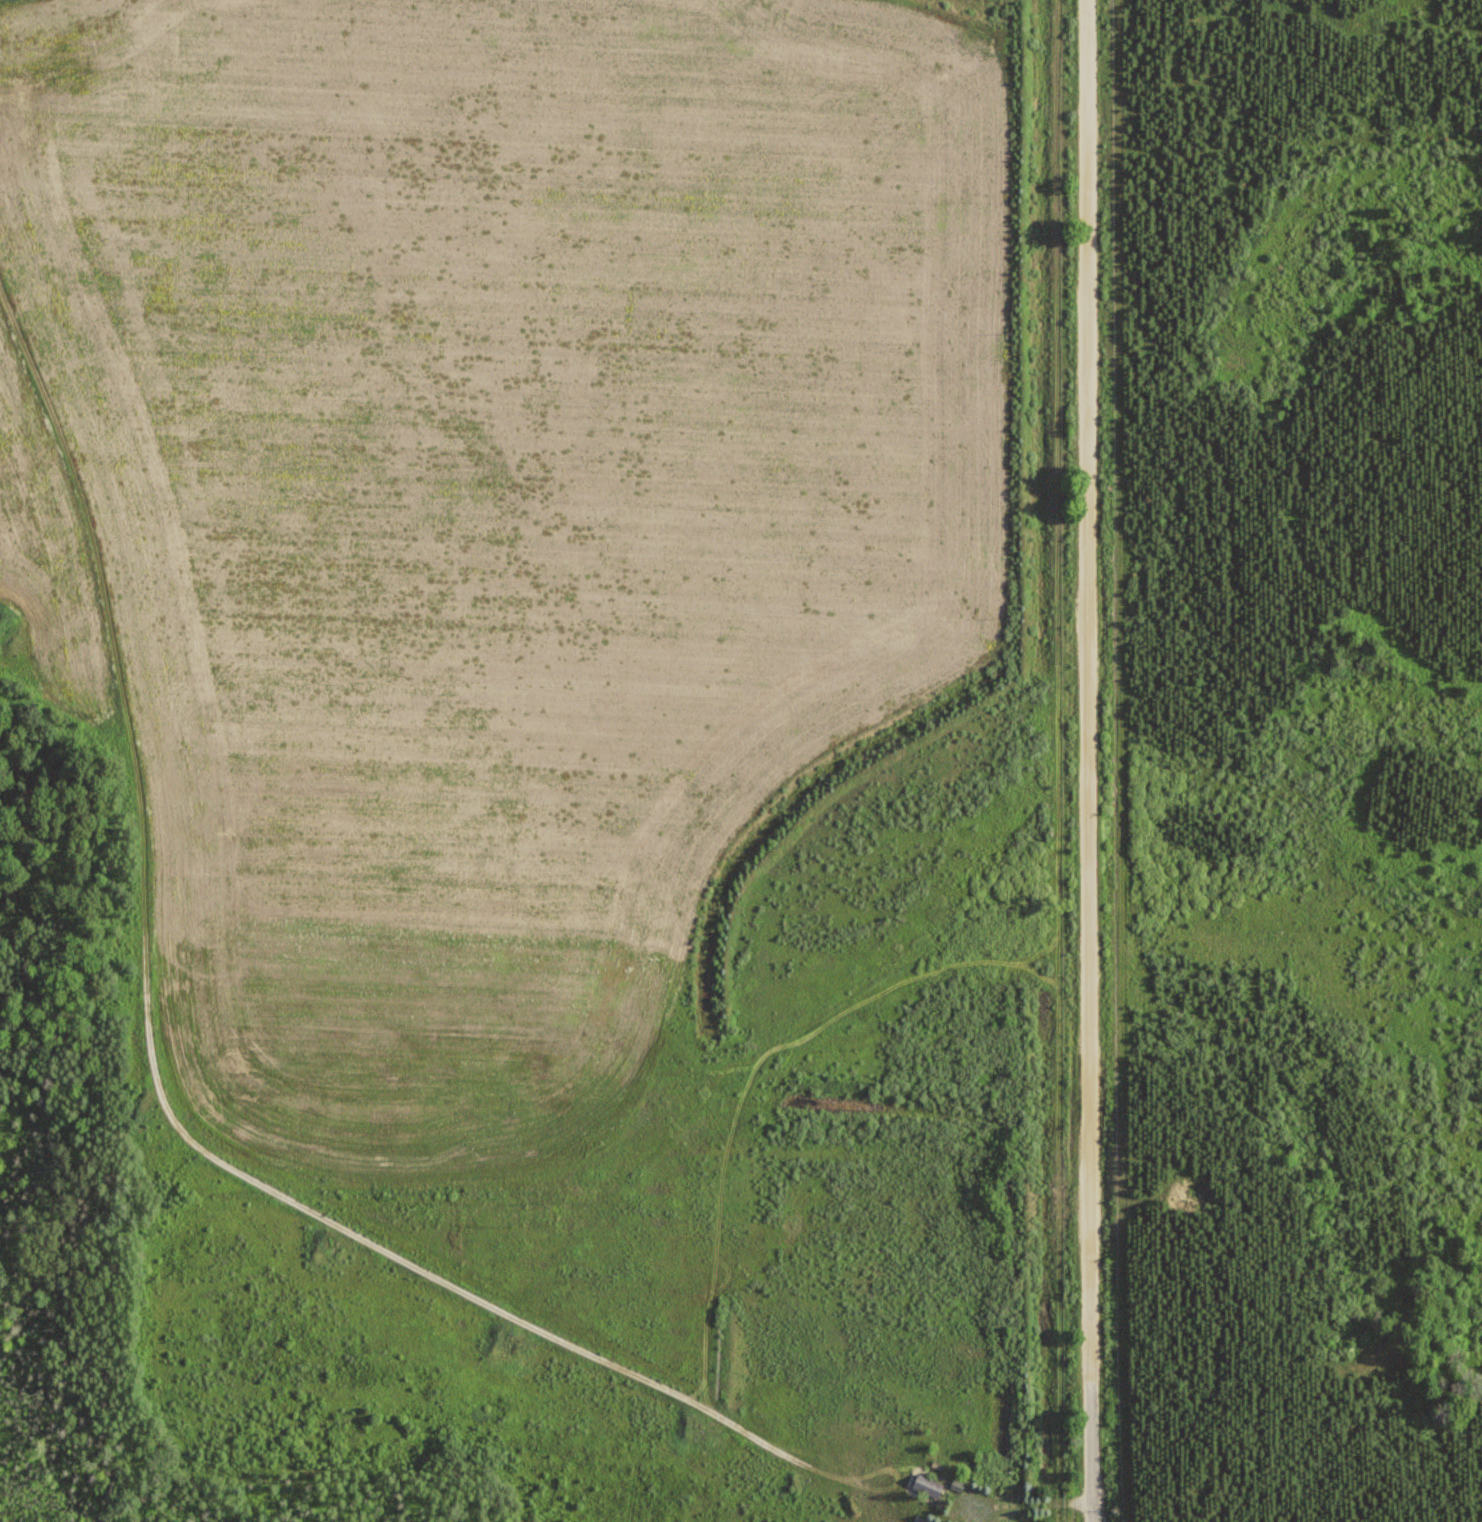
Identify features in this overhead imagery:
road: (589, 678)
road: (1092, 689)
road: (1067, 733)
airport: (556, 739)
road: (692, 1105)
road: (177, 1119)
road: (1091, 1451)
building: (925, 1481)
road: (1023, 1501)

